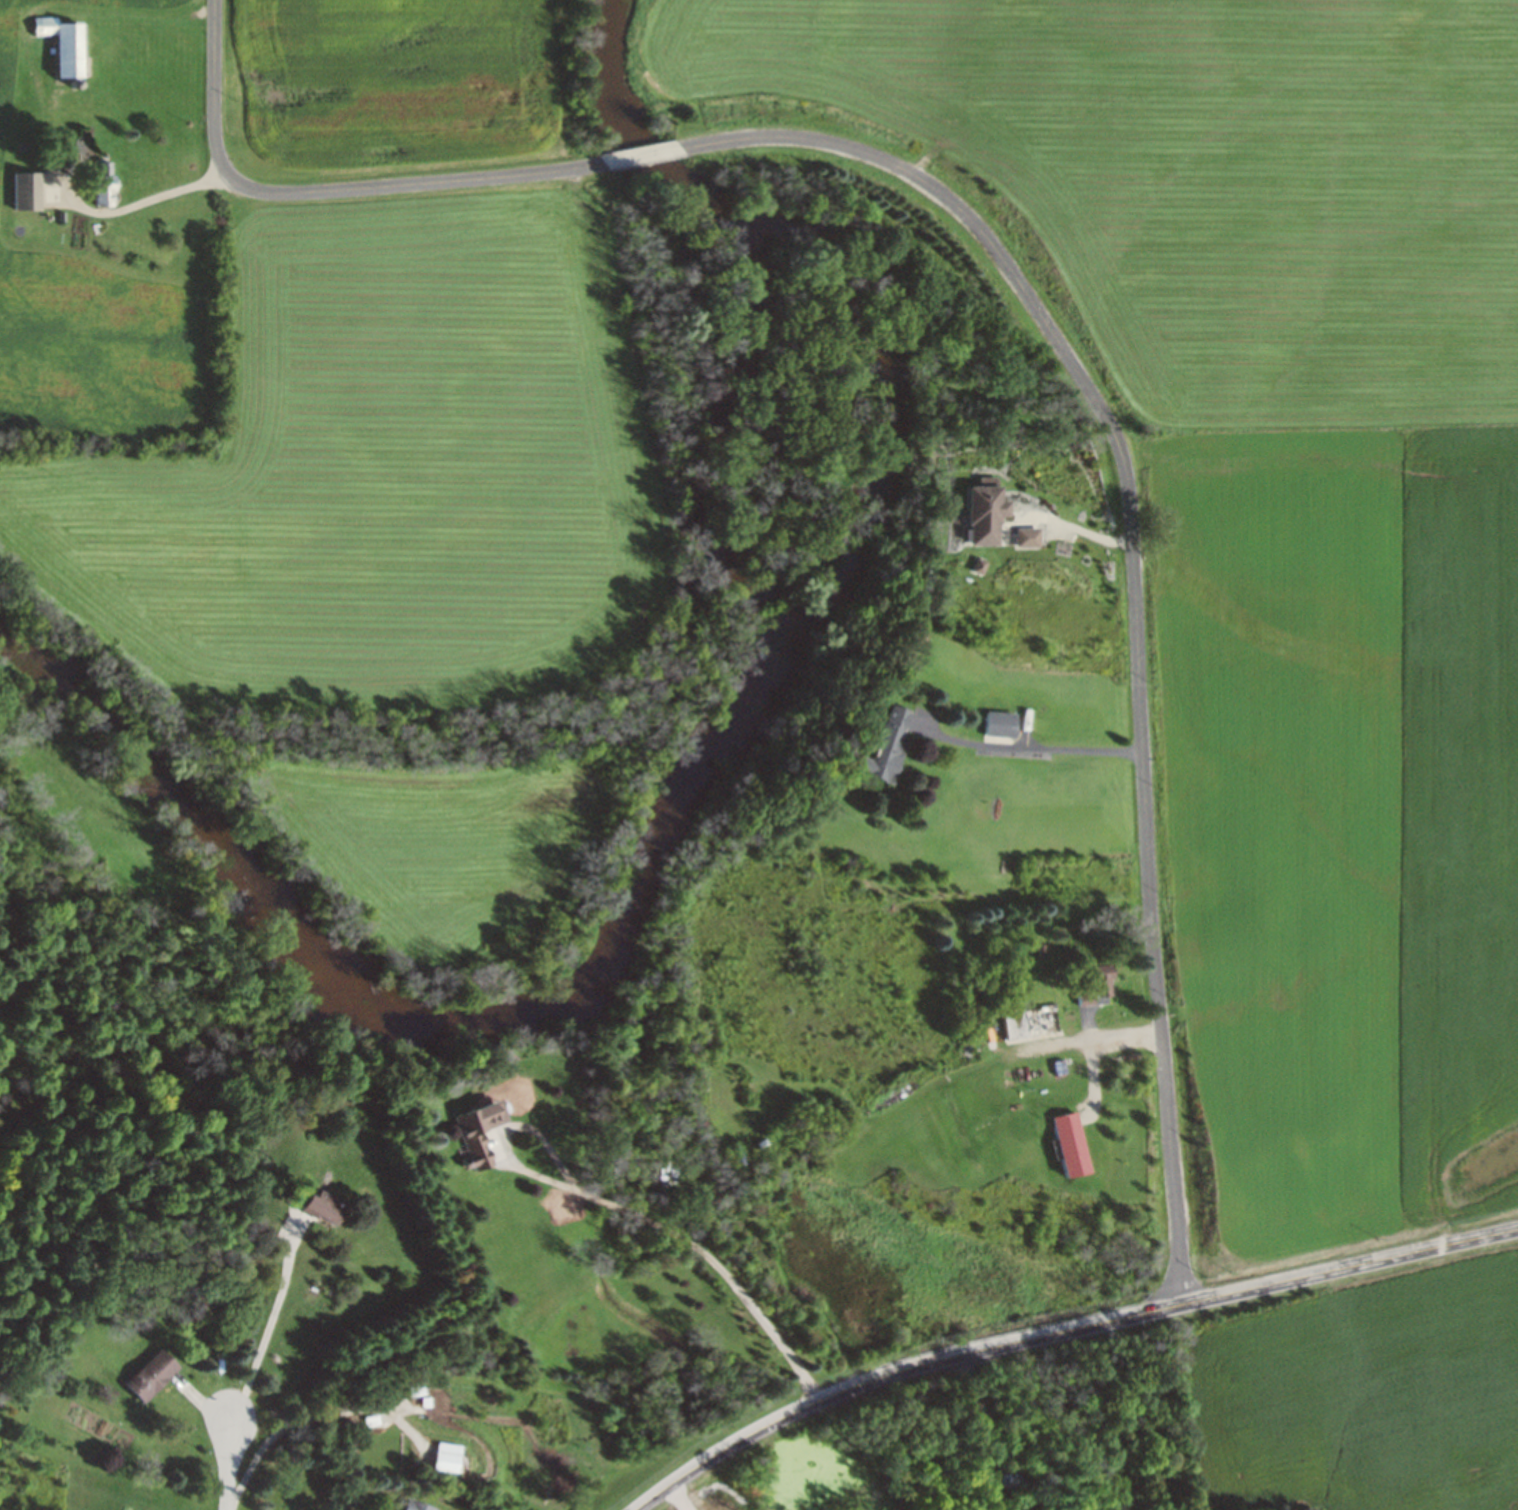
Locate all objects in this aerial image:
building: (65, 45)
road: (640, 155)
building: (104, 185)
road: (327, 188)
building: (26, 192)
road: (148, 199)
building: (985, 511)
building: (1028, 537)
road: (1139, 578)
river: (763, 608)
building: (1000, 723)
building: (888, 746)
road: (1034, 746)
river: (202, 838)
building: (1096, 986)
building: (1031, 1020)
building: (479, 1132)
building: (1071, 1144)
building: (323, 1206)
road: (637, 1212)
road: (268, 1322)
road: (1062, 1331)
building: (151, 1374)
building: (450, 1457)
road: (228, 1464)
building: (1010, 1480)
building: (419, 1505)

